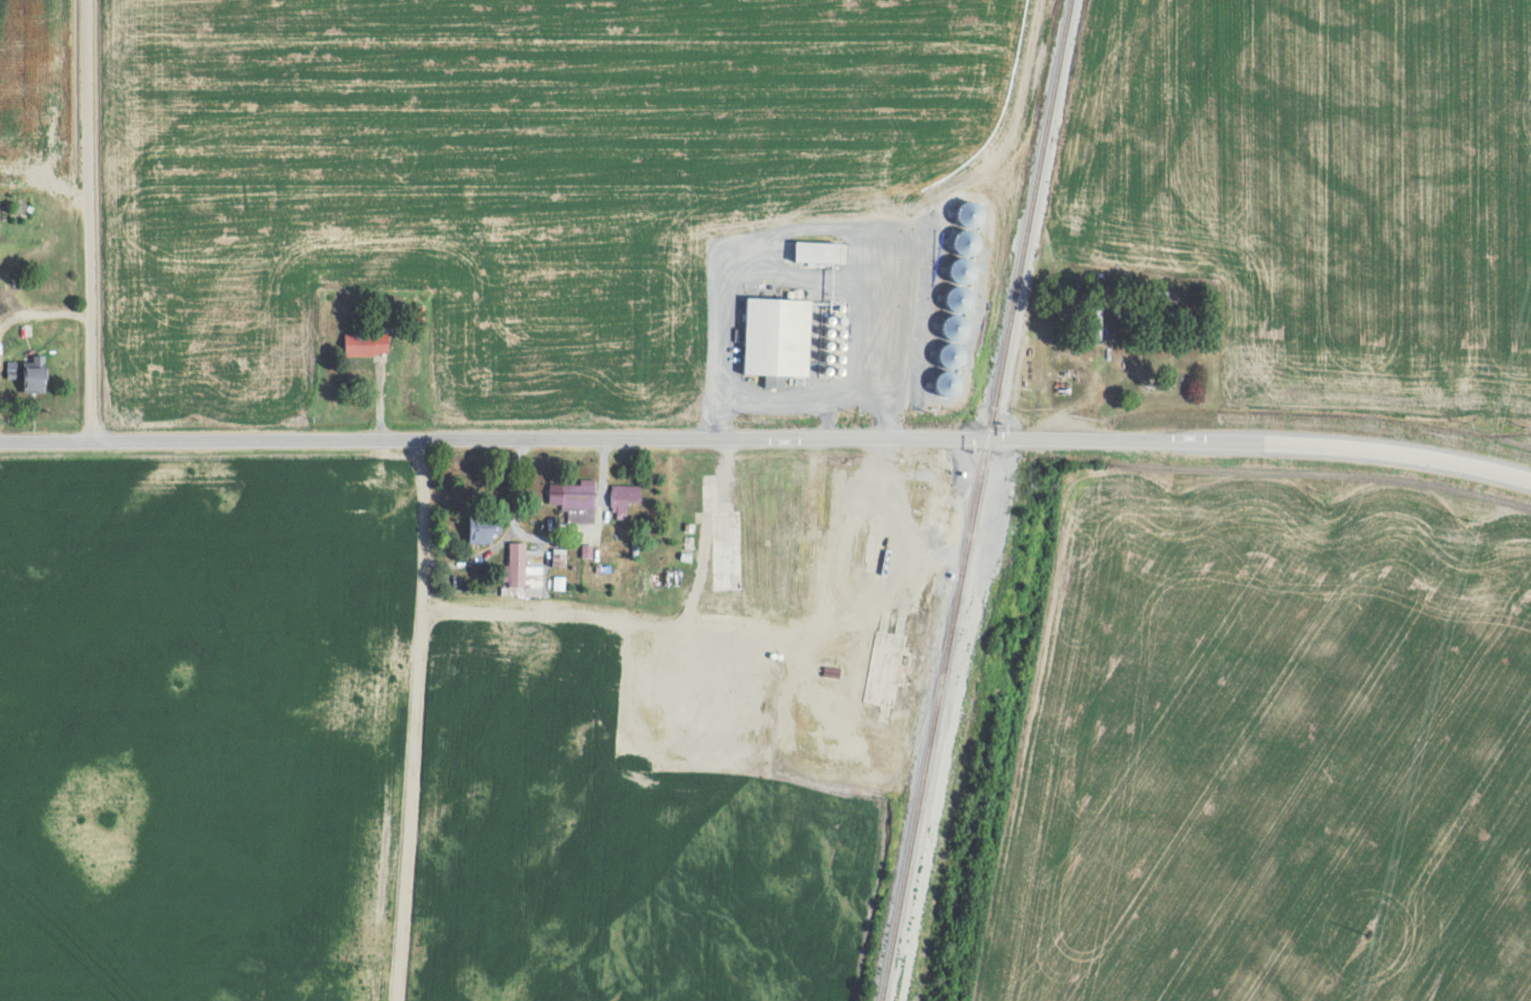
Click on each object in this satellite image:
road: (88, 219)
building: (815, 249)
road: (42, 311)
building: (1090, 317)
building: (24, 328)
building: (776, 334)
building: (364, 341)
silo: (948, 354)
building: (10, 367)
building: (33, 372)
silo: (944, 382)
road: (378, 394)
road: (767, 435)
building: (577, 495)
building: (622, 496)
railway: (975, 500)
building: (608, 515)
building: (794, 519)
building: (480, 525)
building: (853, 542)
building: (585, 552)
building: (515, 561)
building: (725, 563)
building: (802, 584)
silo: (711, 598)
silo: (748, 601)
silo: (728, 602)
building: (878, 663)
road: (410, 719)
building: (832, 757)

